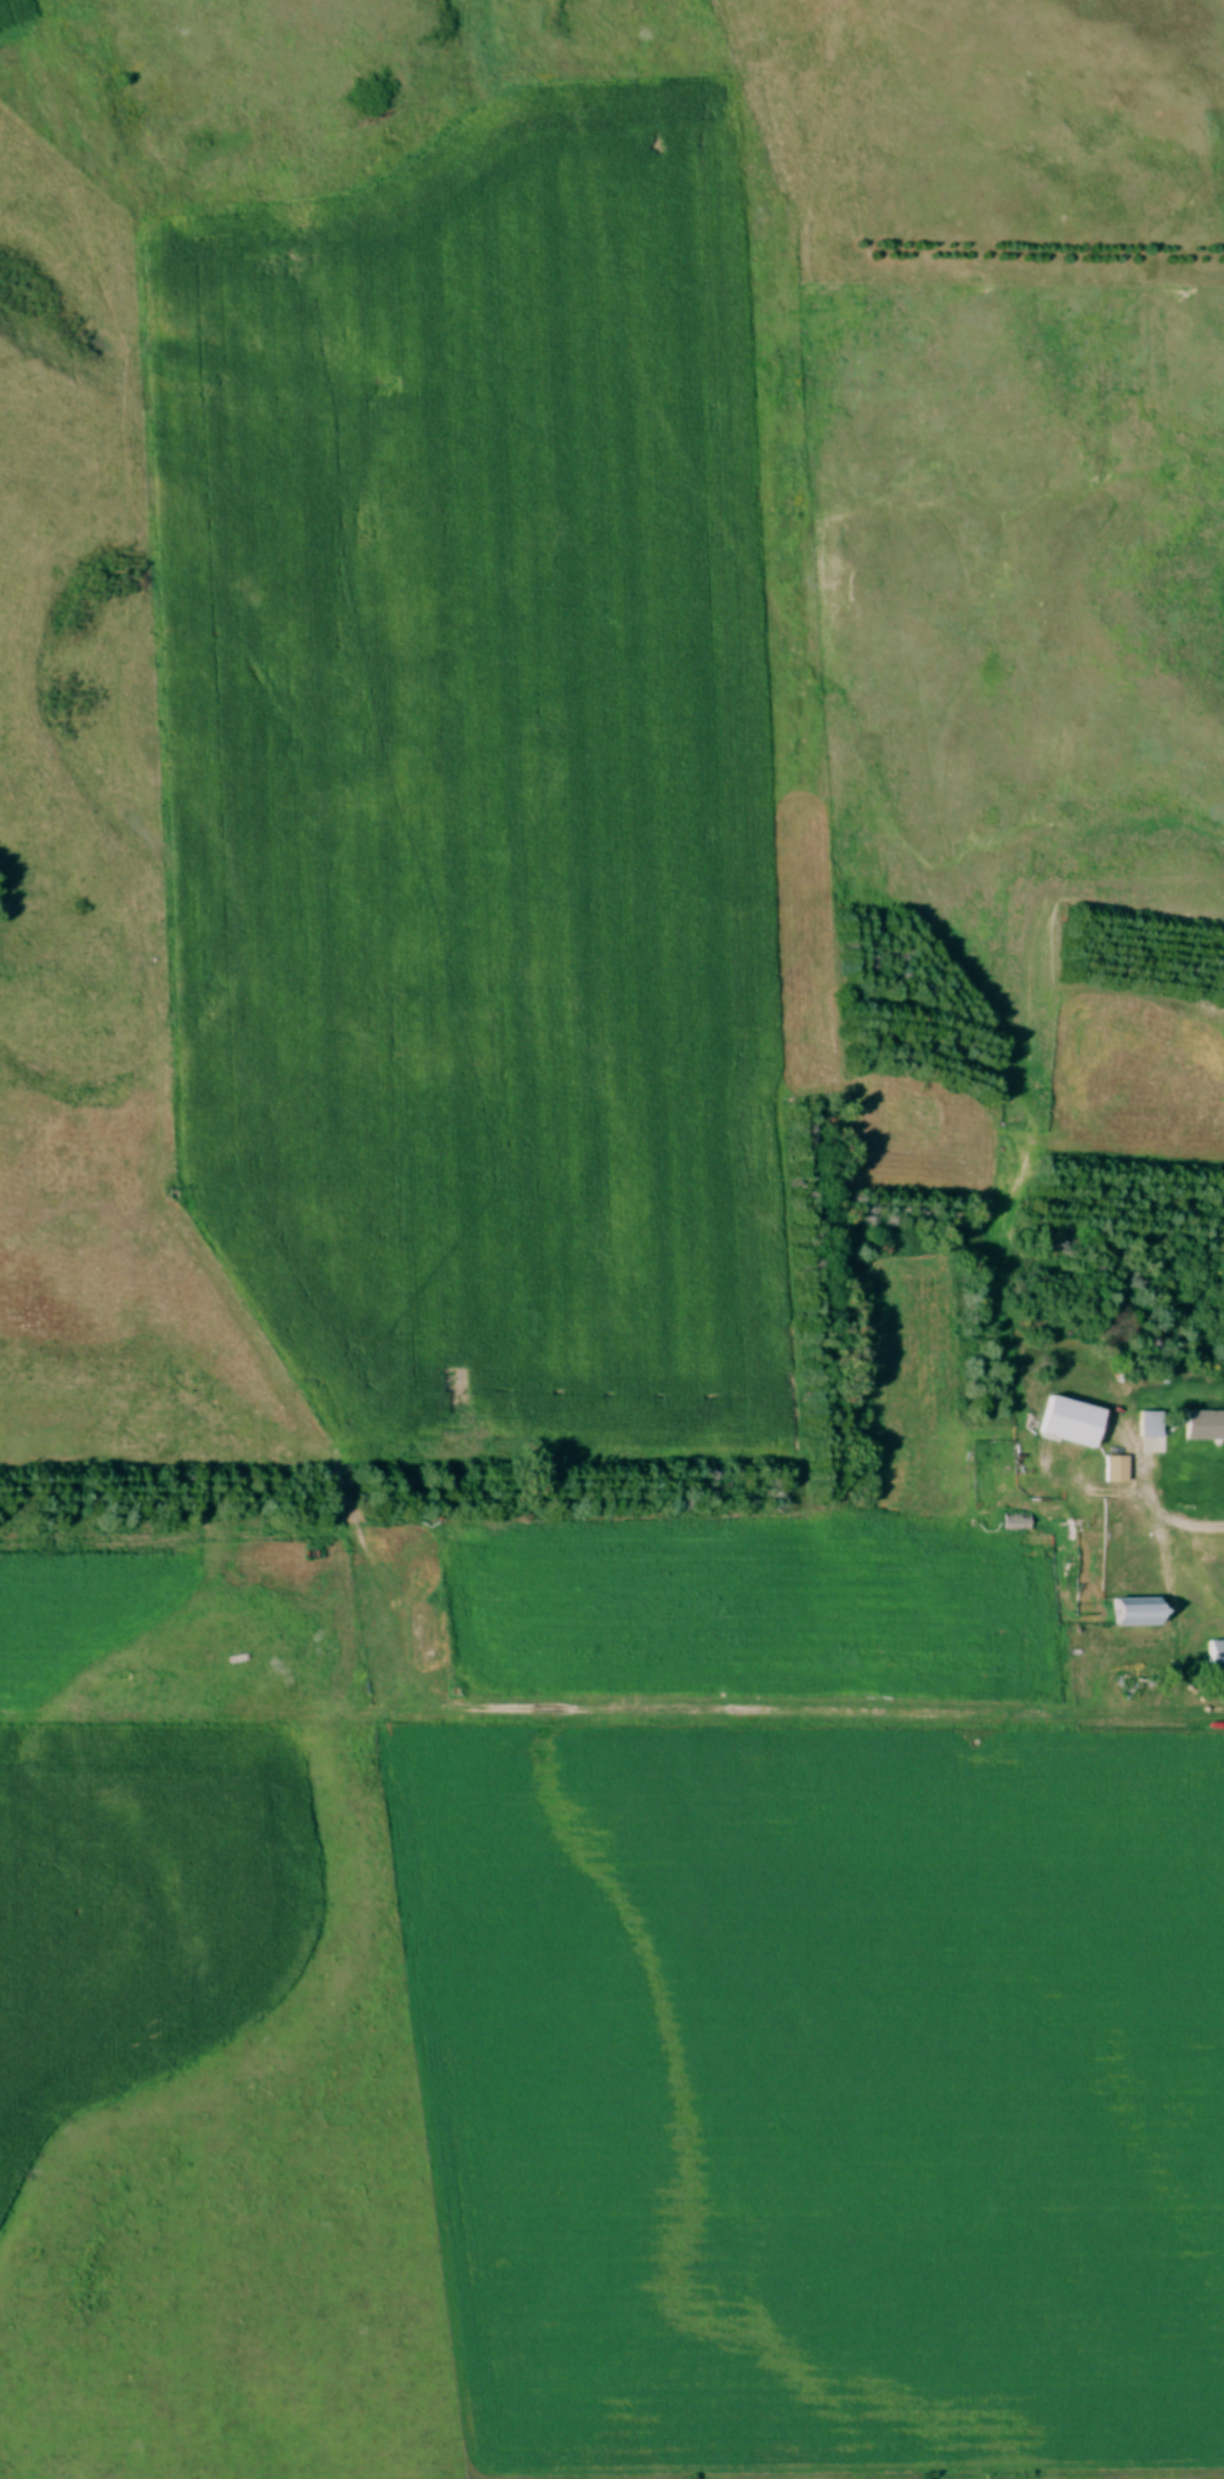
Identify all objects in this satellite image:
building: (1151, 1428)
building: (1117, 1473)
building: (1212, 1476)
building: (1018, 1526)
road: (1168, 1565)
building: (1139, 1616)
building: (1217, 1656)

